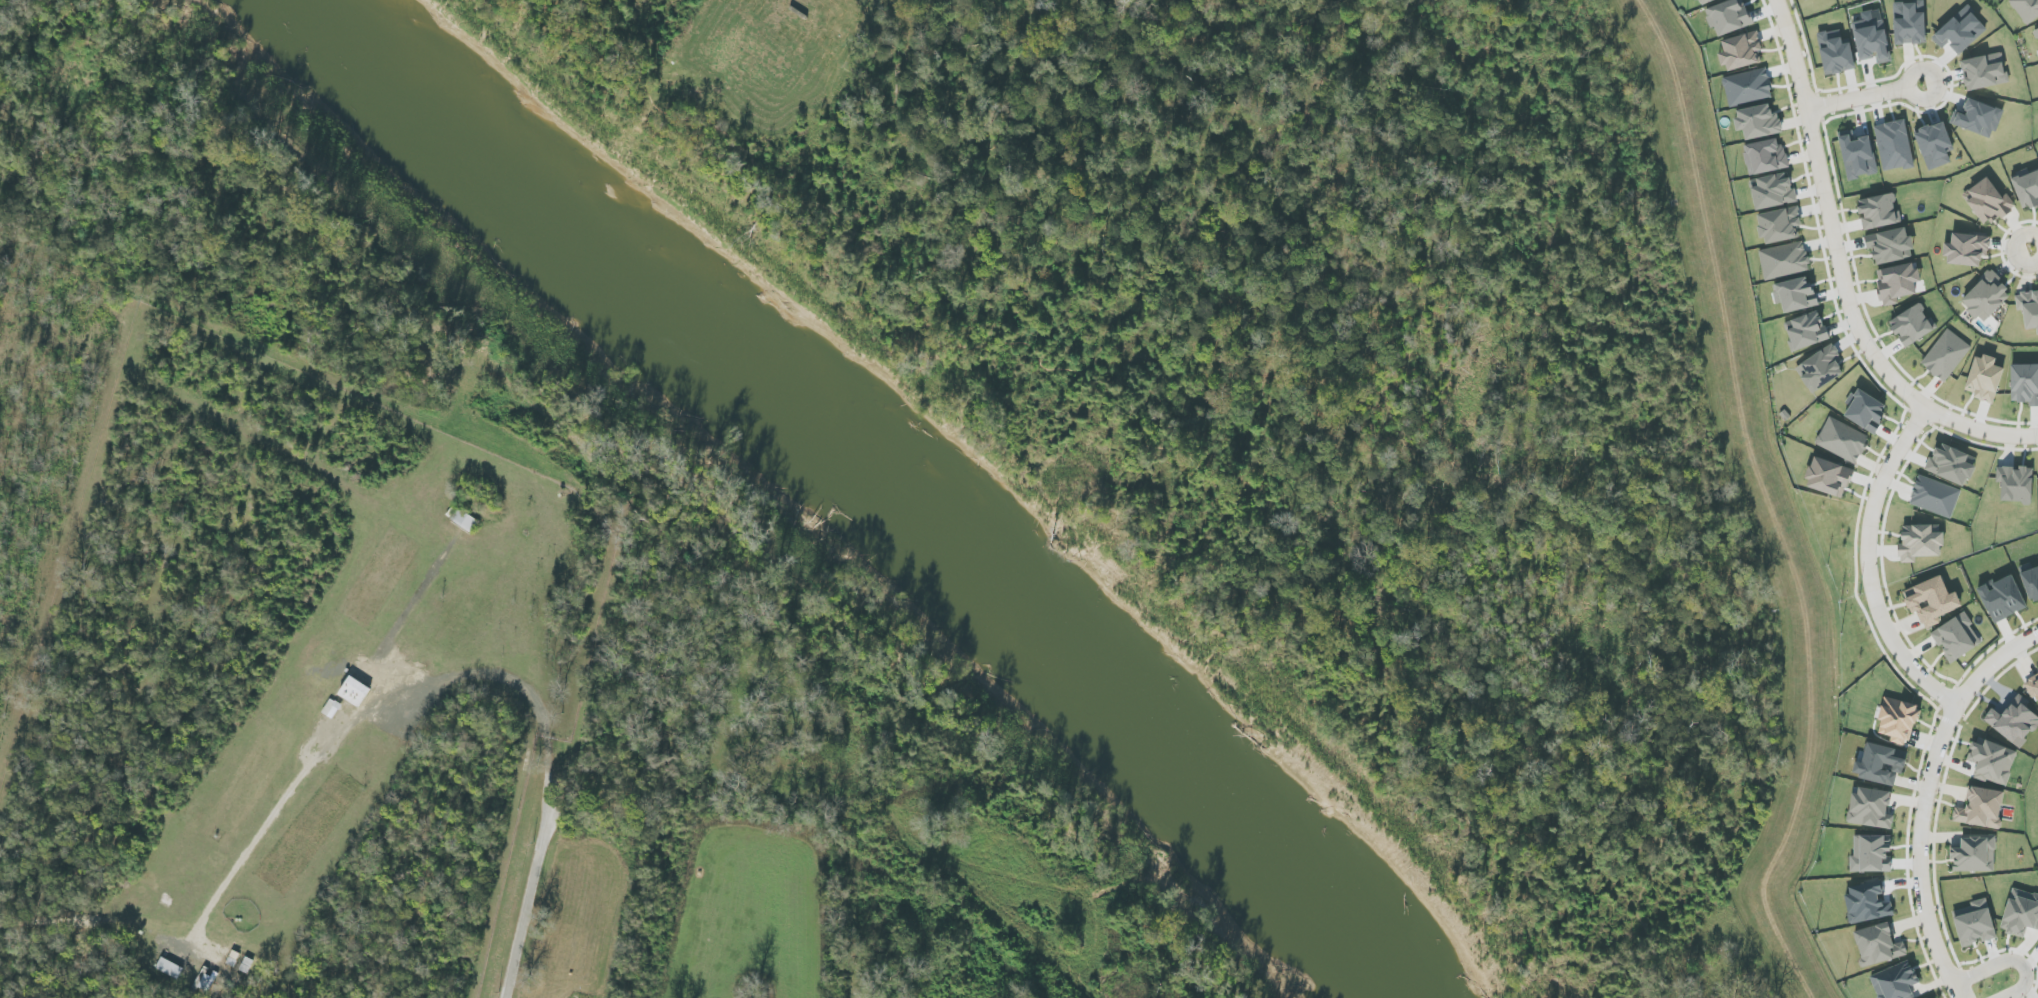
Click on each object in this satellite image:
building: (1805, 0)
building: (1702, 1)
building: (2026, 9)
building: (1728, 17)
building: (1909, 23)
building: (1960, 31)
building: (2037, 31)
building: (1872, 40)
building: (1741, 51)
building: (1836, 53)
building: (1984, 71)
building: (1755, 90)
building: (1734, 91)
road: (1865, 96)
building: (1978, 118)
building: (1758, 122)
building: (1935, 145)
building: (1894, 146)
building: (1858, 156)
building: (1765, 157)
building: (2027, 188)
building: (1772, 191)
building: (1989, 202)
building: (1878, 212)
building: (1779, 225)
building: (1890, 246)
road: (2032, 246)
building: (1967, 249)
building: (1784, 260)
road: (1840, 262)
building: (1897, 283)
building: (1795, 294)
building: (1986, 297)
building: (2028, 309)
building: (1912, 325)
building: (1807, 331)
building: (1946, 355)
building: (1822, 369)
building: (1984, 378)
building: (2025, 384)
building: (1866, 411)
road: (2026, 438)
building: (1842, 440)
building: (1951, 465)
building: (1829, 477)
building: (2016, 484)
river: (882, 485)
building: (1935, 496)
building: (466, 520)
building: (1920, 542)
road: (1866, 566)
building: (2031, 584)
building: (2002, 598)
building: (1931, 601)
building: (1956, 638)
building: (2037, 667)
building: (2034, 687)
building: (355, 691)
building: (332, 706)
road: (365, 717)
building: (2013, 720)
building: (1898, 721)
building: (1993, 762)
building: (1880, 764)
road: (1927, 797)
building: (1870, 808)
building: (1981, 808)
building: (1872, 854)
building: (1975, 854)
road: (530, 898)
building: (1867, 903)
building: (2021, 913)
building: (1975, 924)
building: (1878, 945)
road: (2007, 962)
building: (170, 968)
building: (1895, 980)
building: (204, 981)

